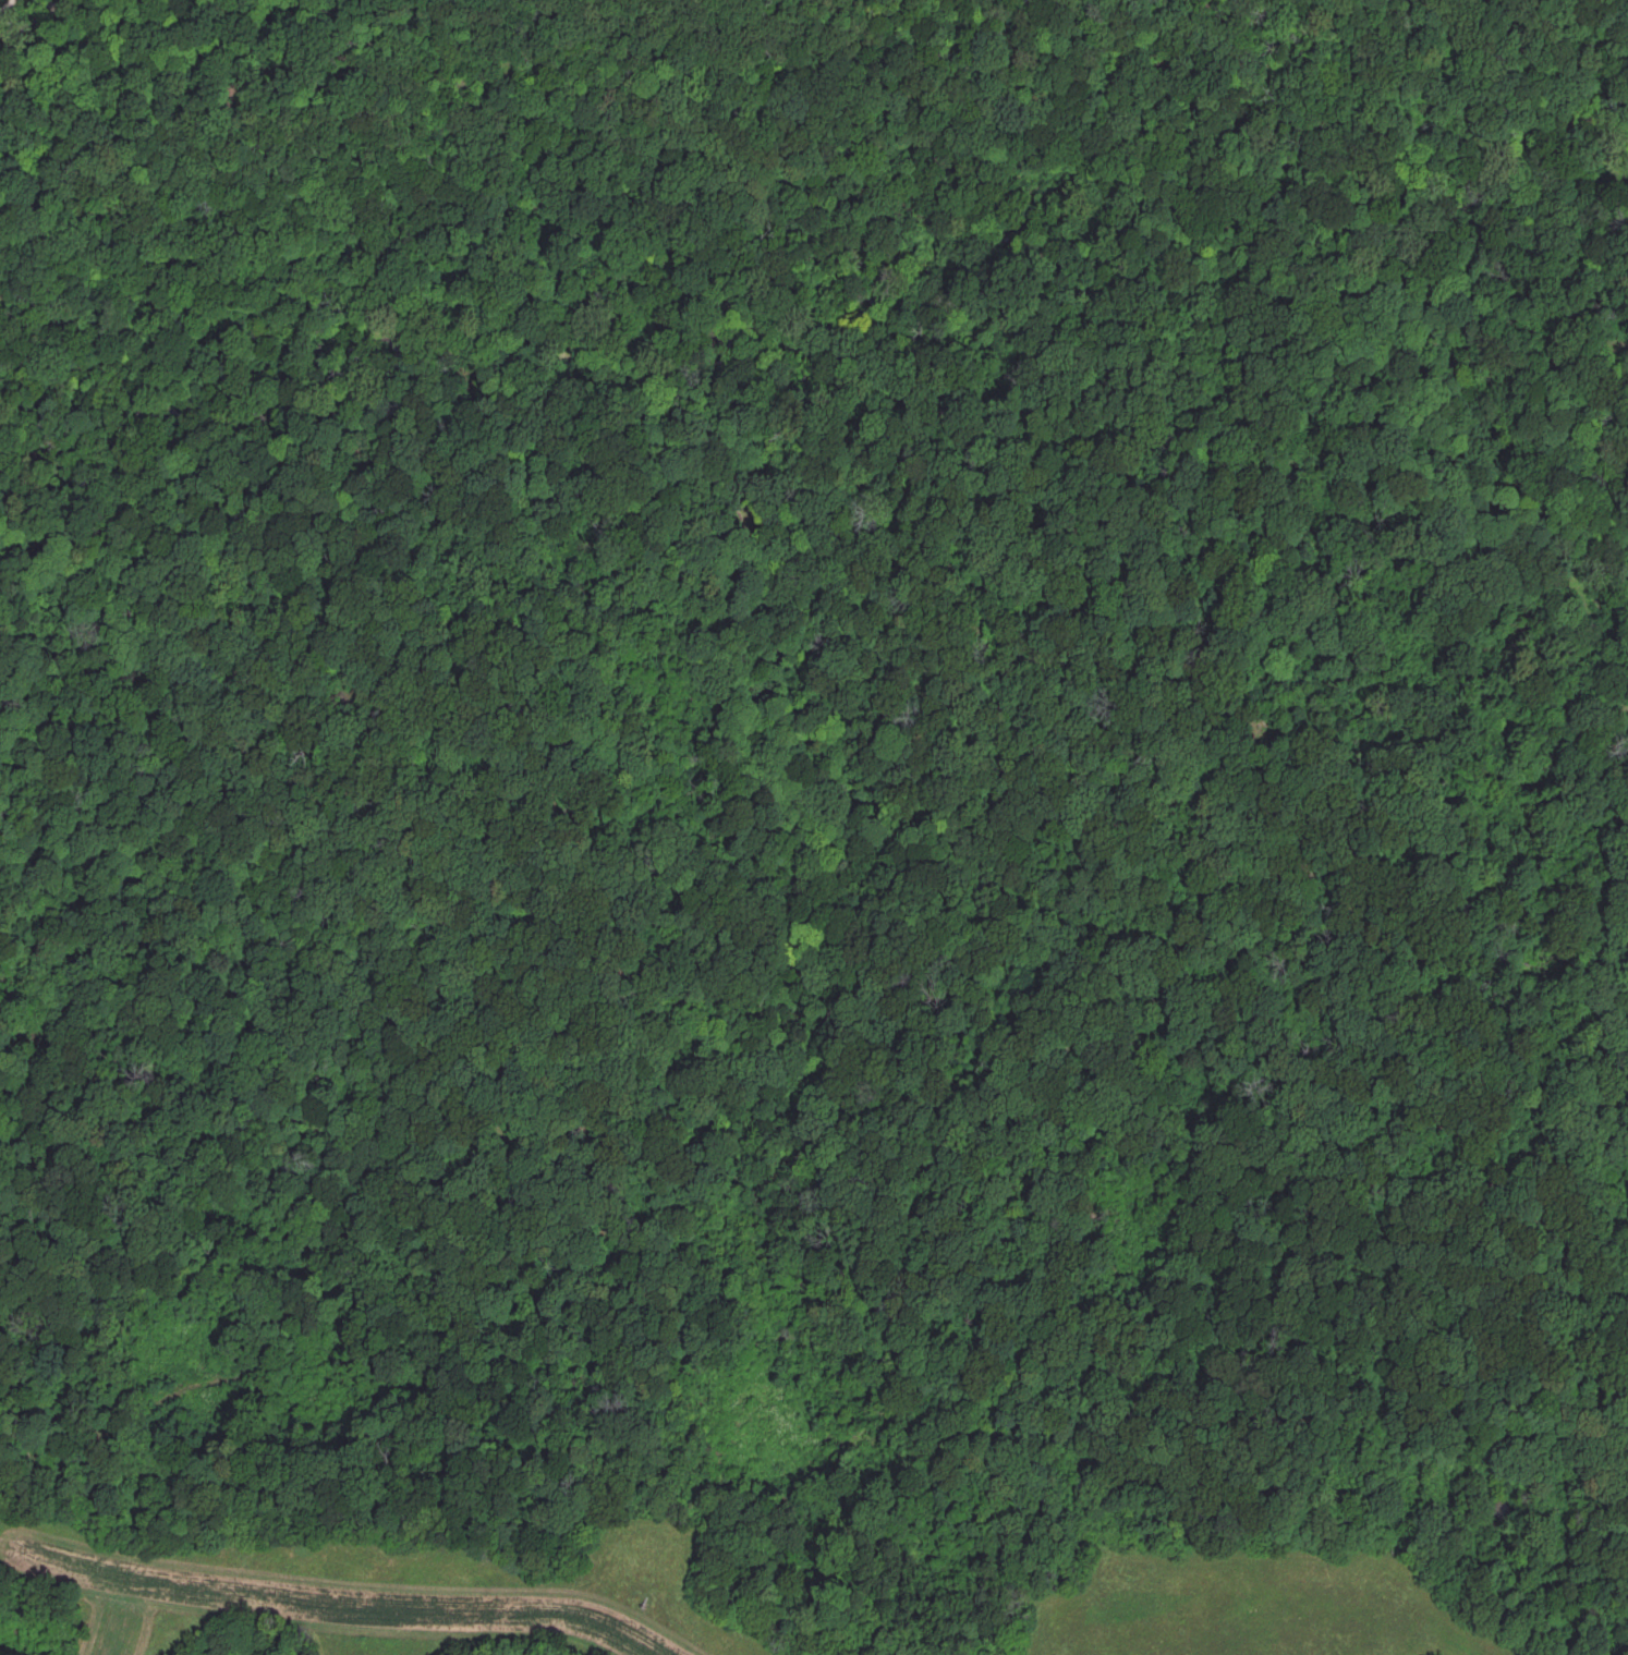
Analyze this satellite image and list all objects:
road: (2, 3)
road: (521, 727)
road: (1230, 813)
road: (967, 1139)
road: (498, 1426)

